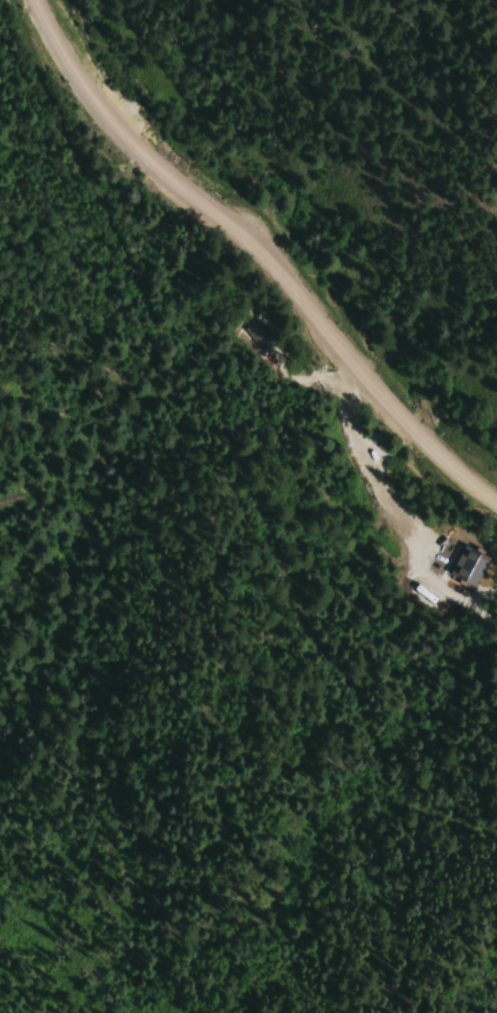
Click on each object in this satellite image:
road: (252, 260)

